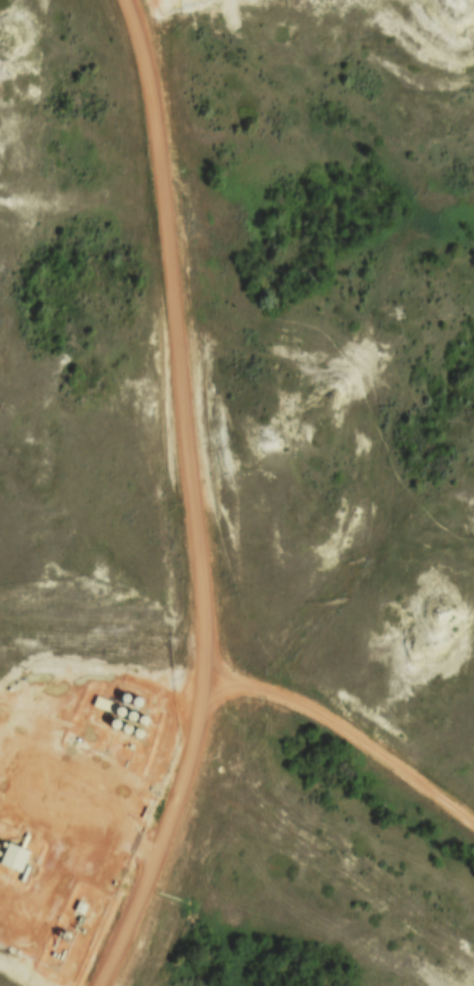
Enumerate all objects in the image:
road: (192, 502)
road: (350, 738)
building: (11, 858)

